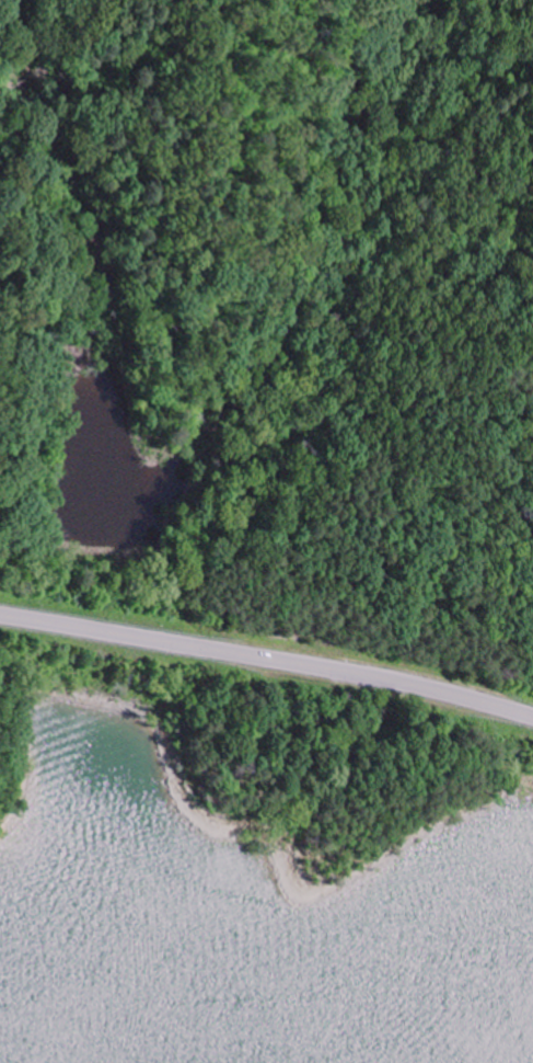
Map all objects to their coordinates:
road: (268, 658)
road: (11, 740)

